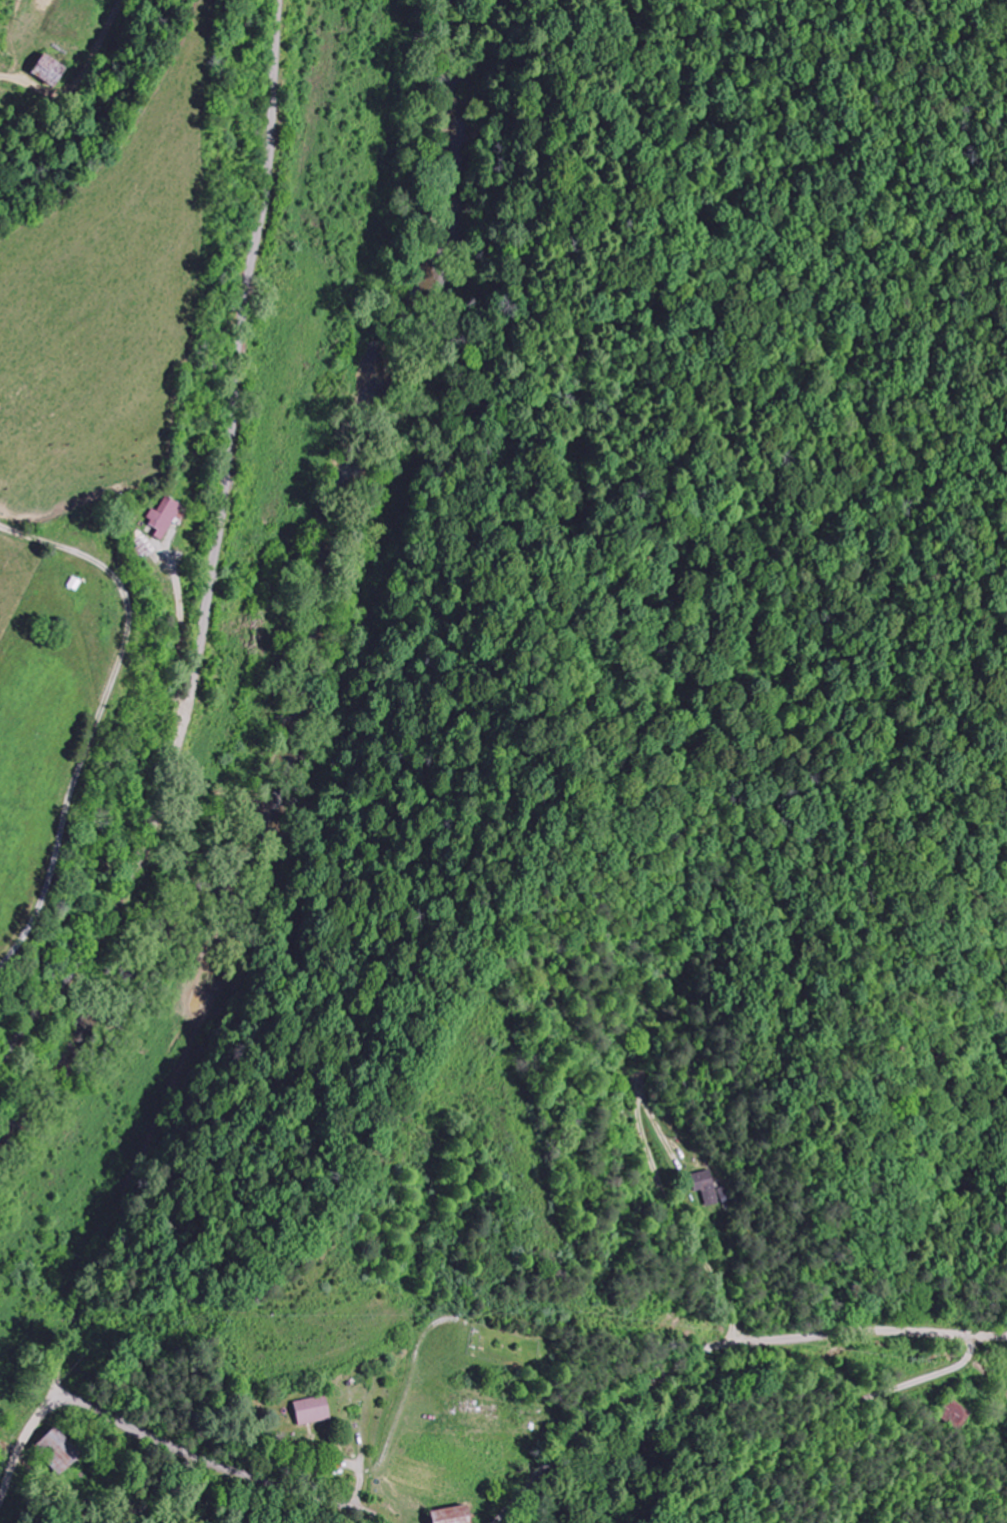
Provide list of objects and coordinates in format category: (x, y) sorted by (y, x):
building: (50, 69)
building: (166, 517)
road: (214, 555)
road: (137, 1156)
building: (710, 1188)
road: (705, 1351)
road: (841, 1406)
building: (313, 1409)
building: (59, 1451)
road: (195, 1458)
building: (453, 1514)

